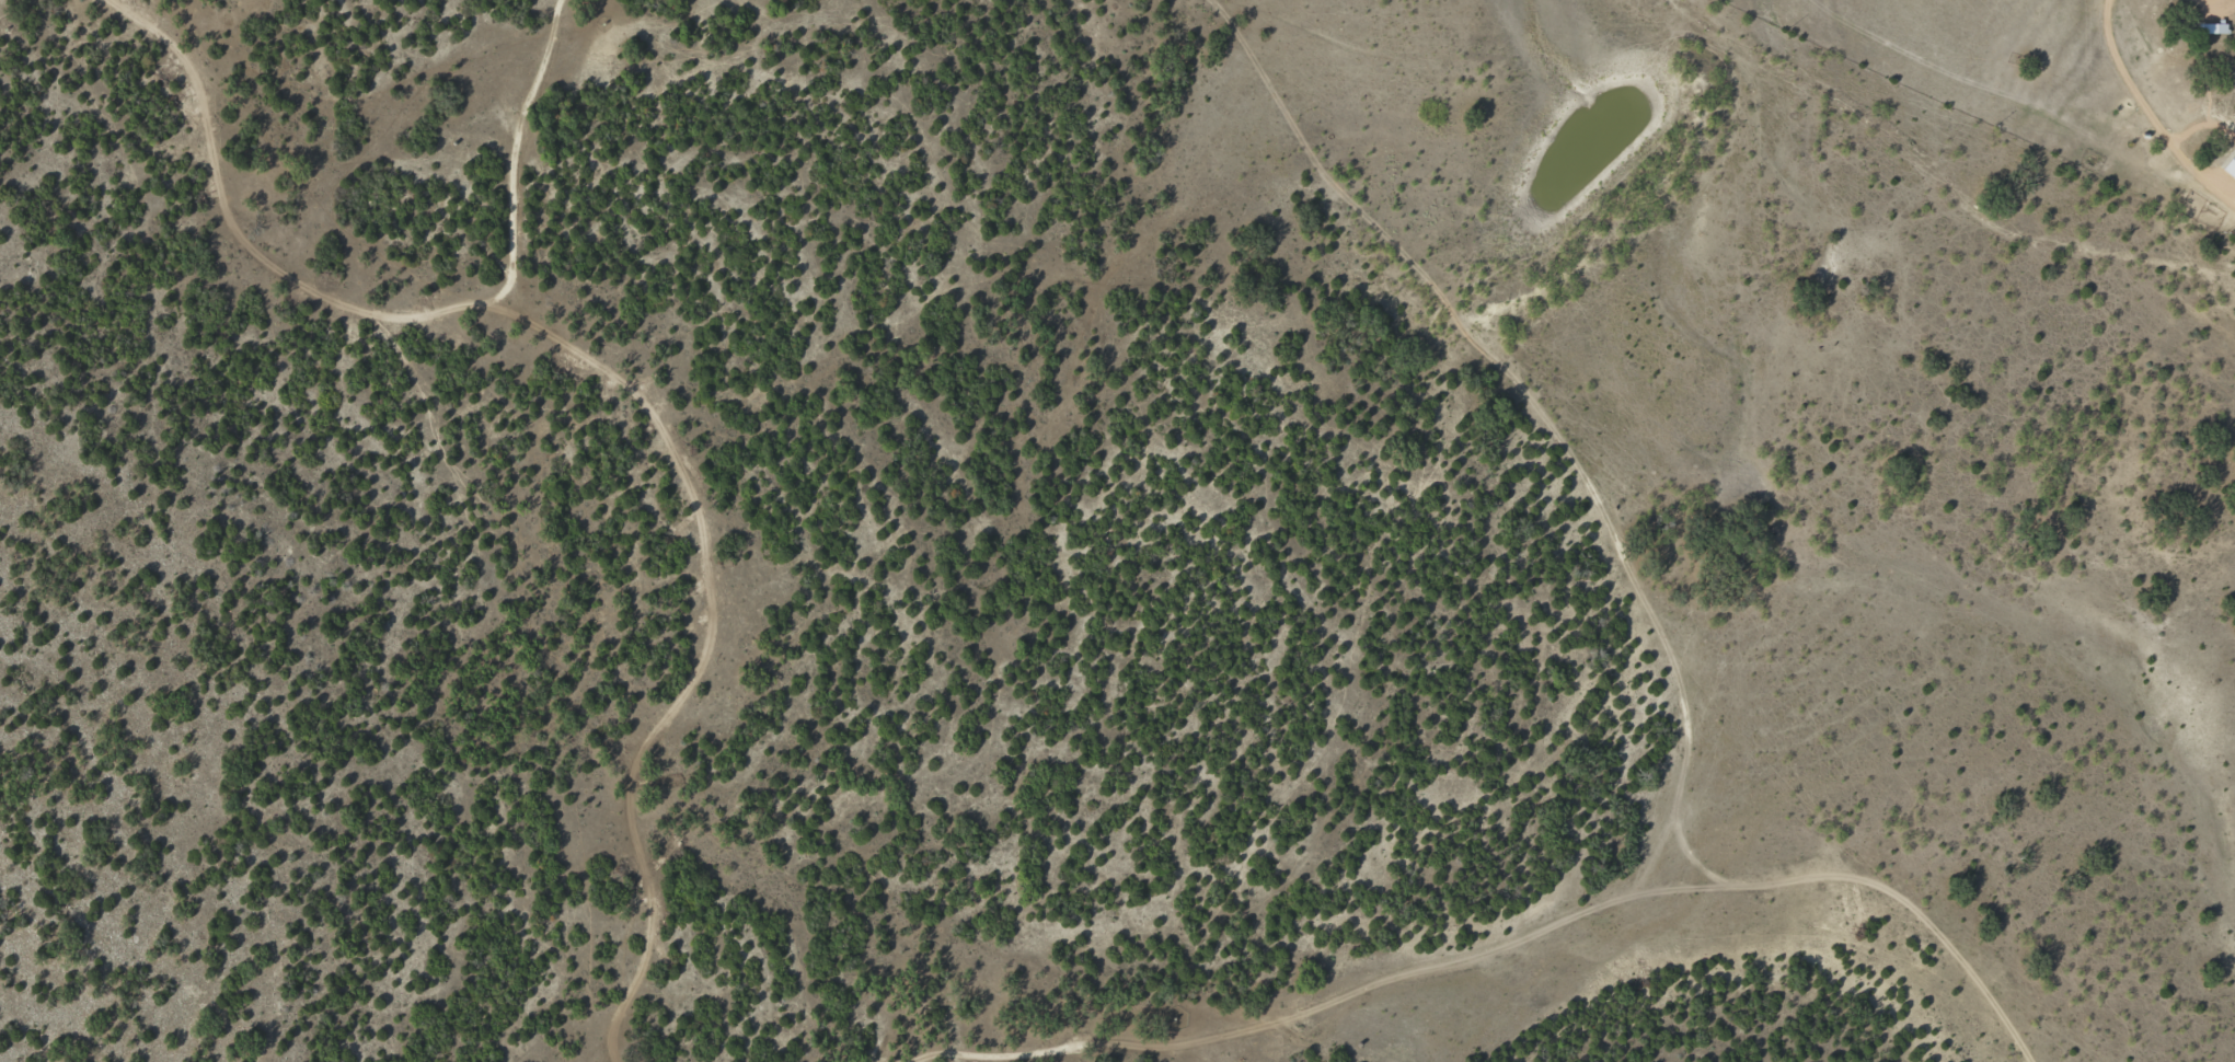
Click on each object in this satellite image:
road: (1939, 217)

